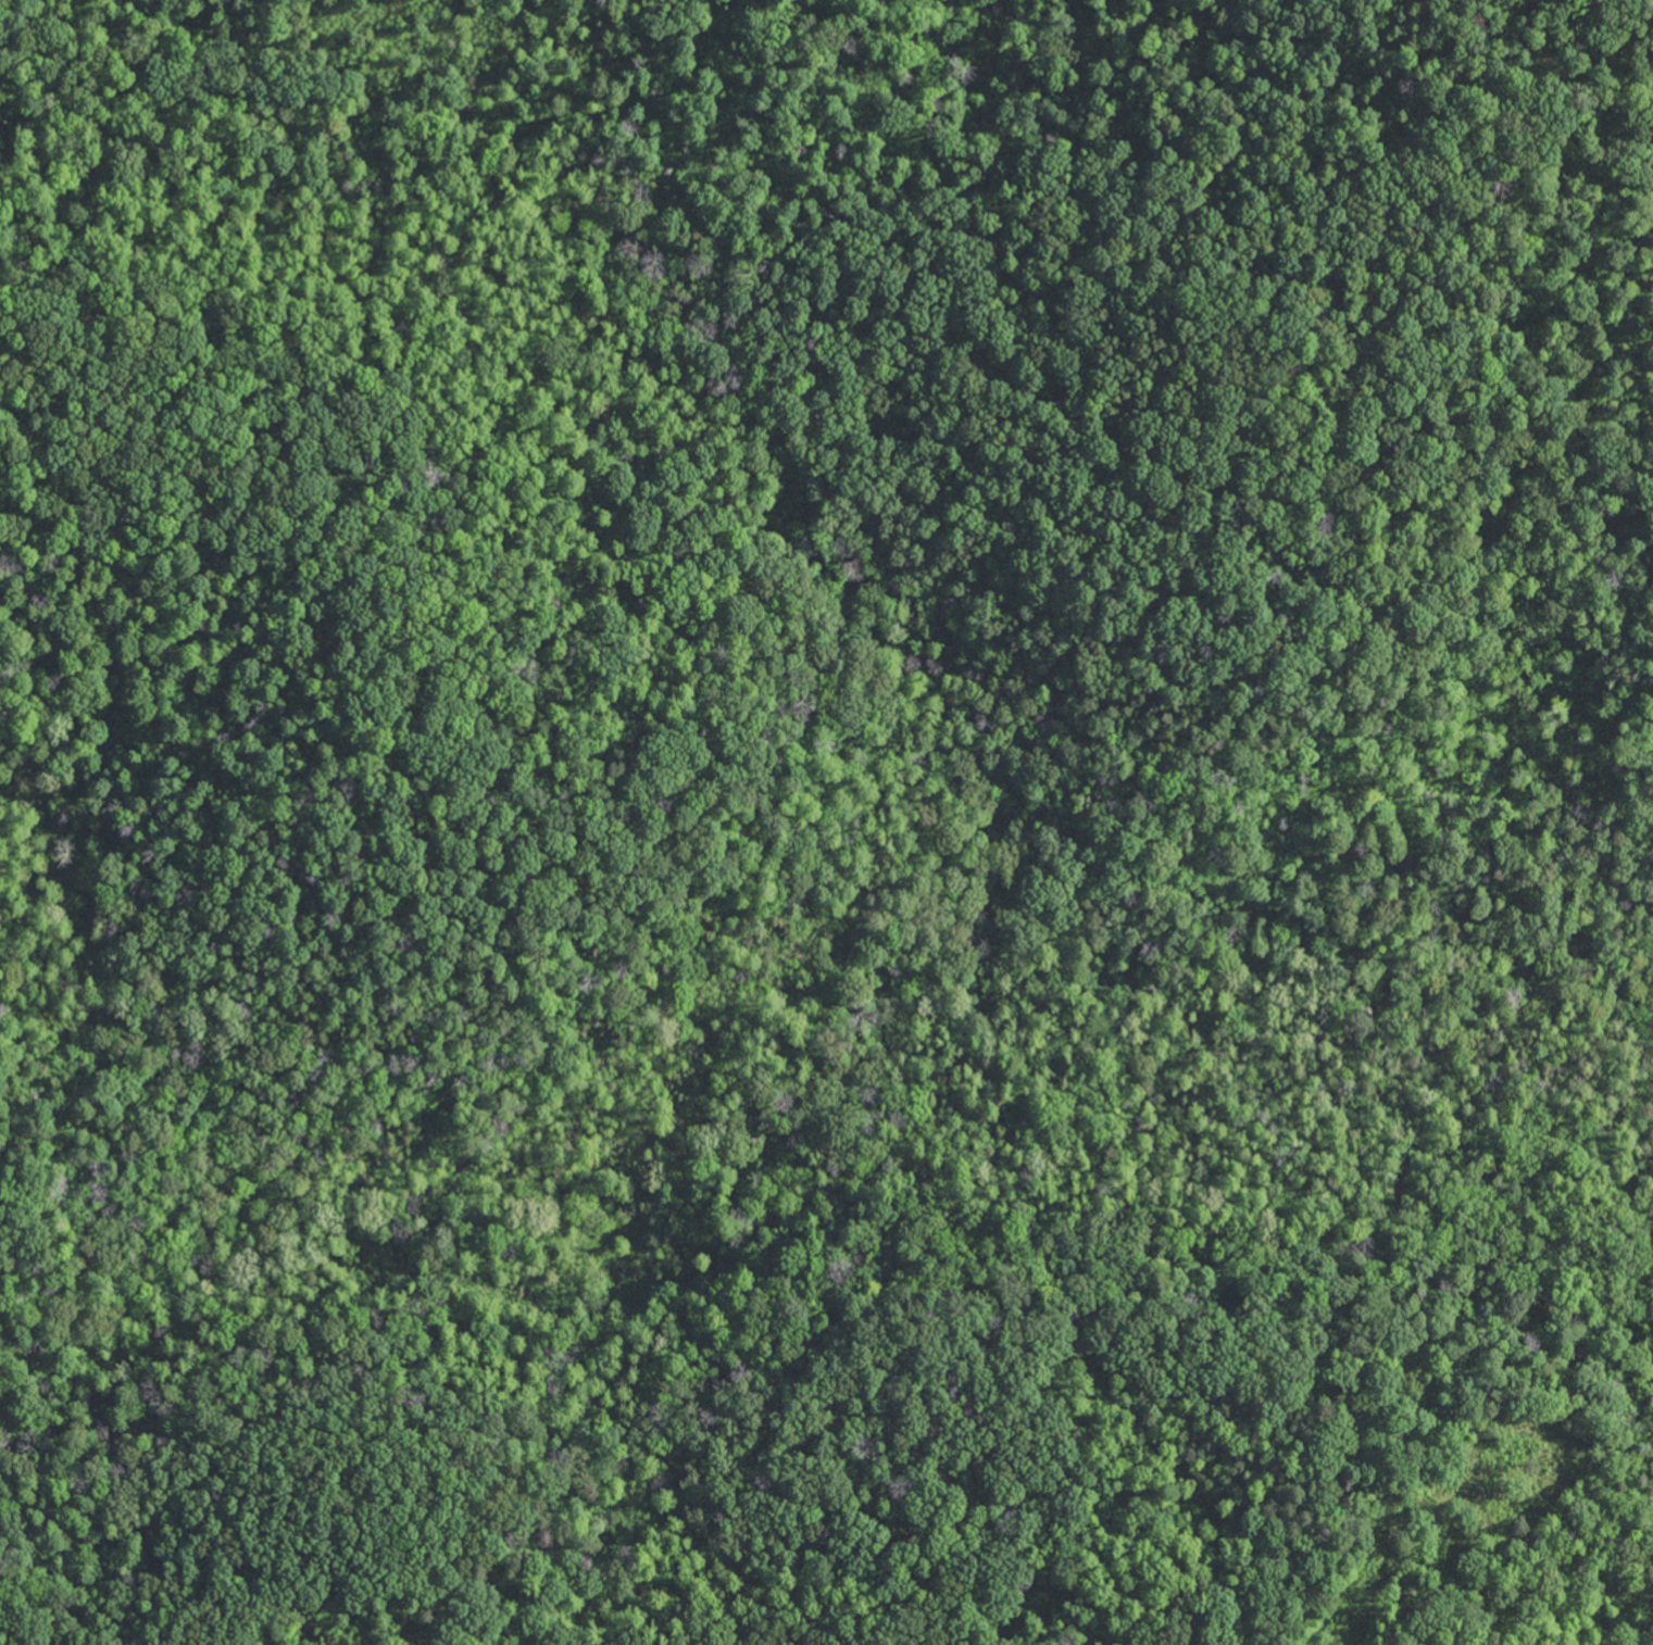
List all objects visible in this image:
road: (78, 37)
road: (1172, 87)
road: (212, 1104)
road: (477, 1207)

